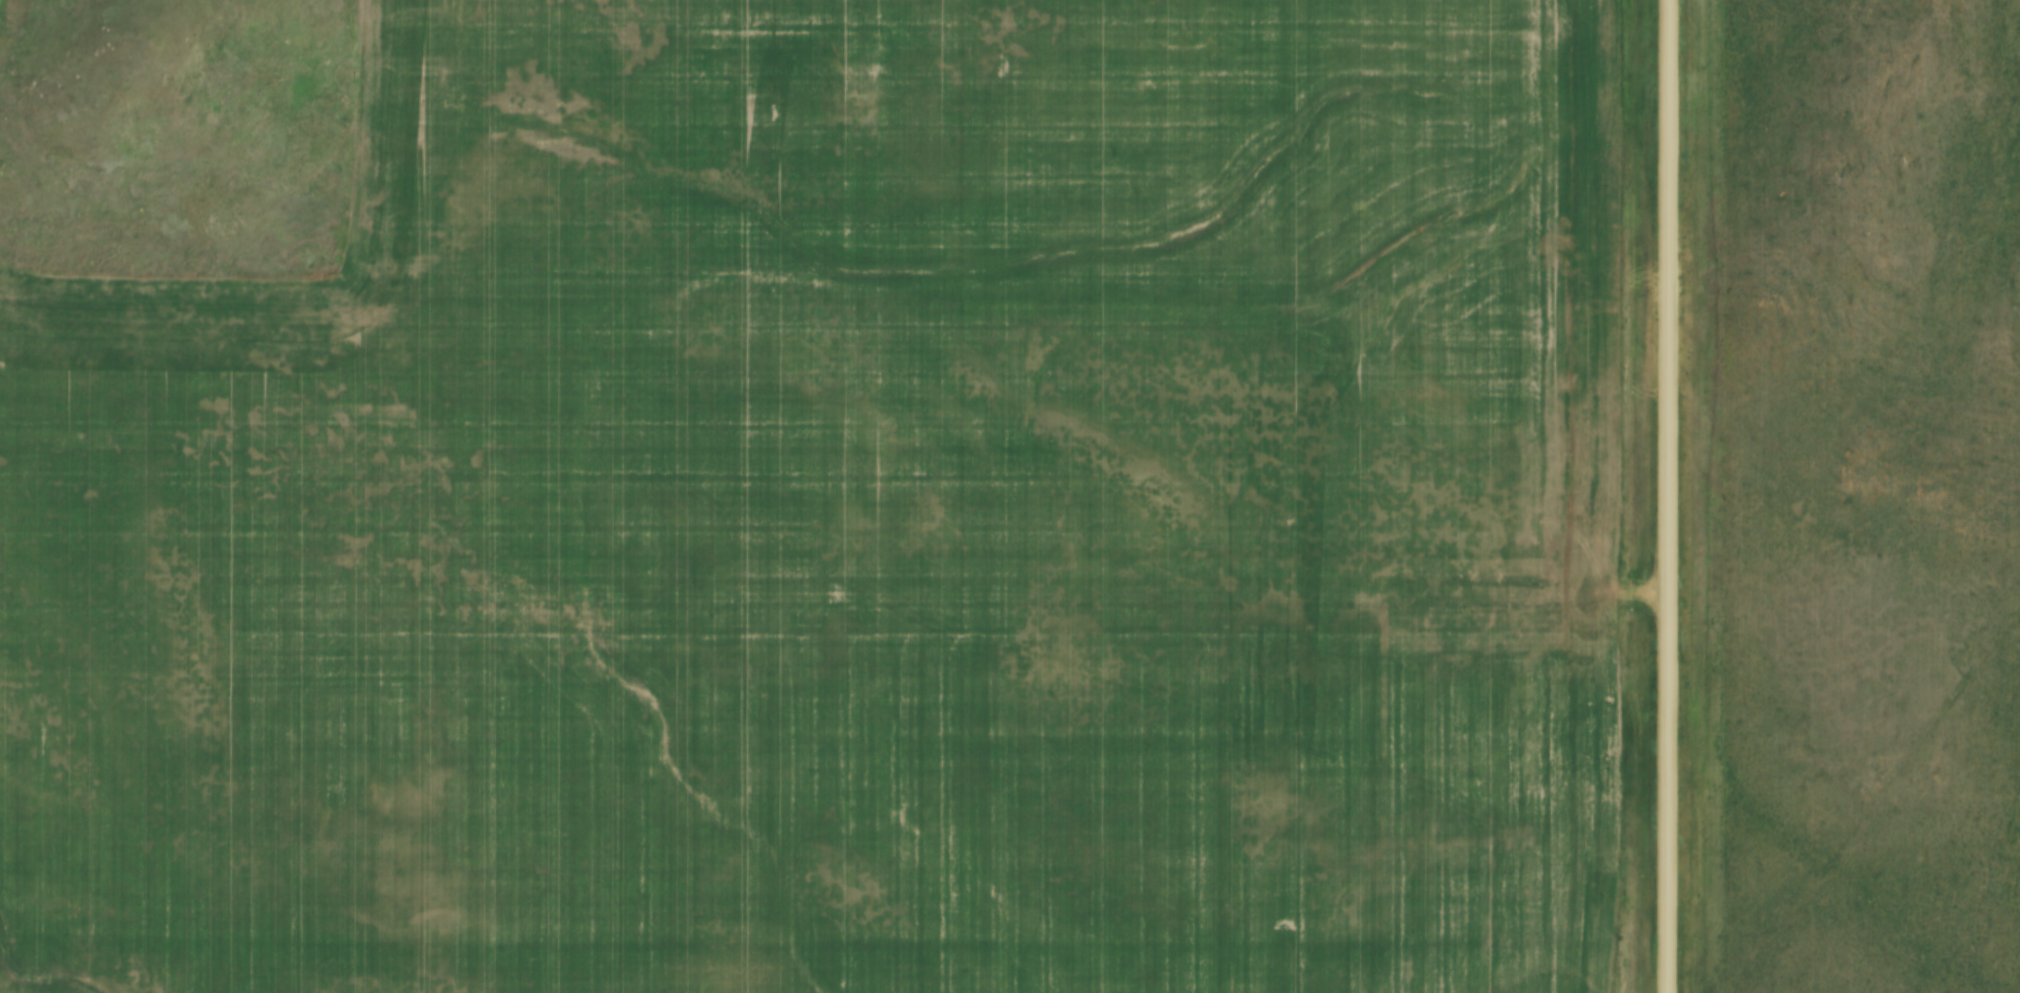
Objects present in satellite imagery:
road: (1669, 496)

